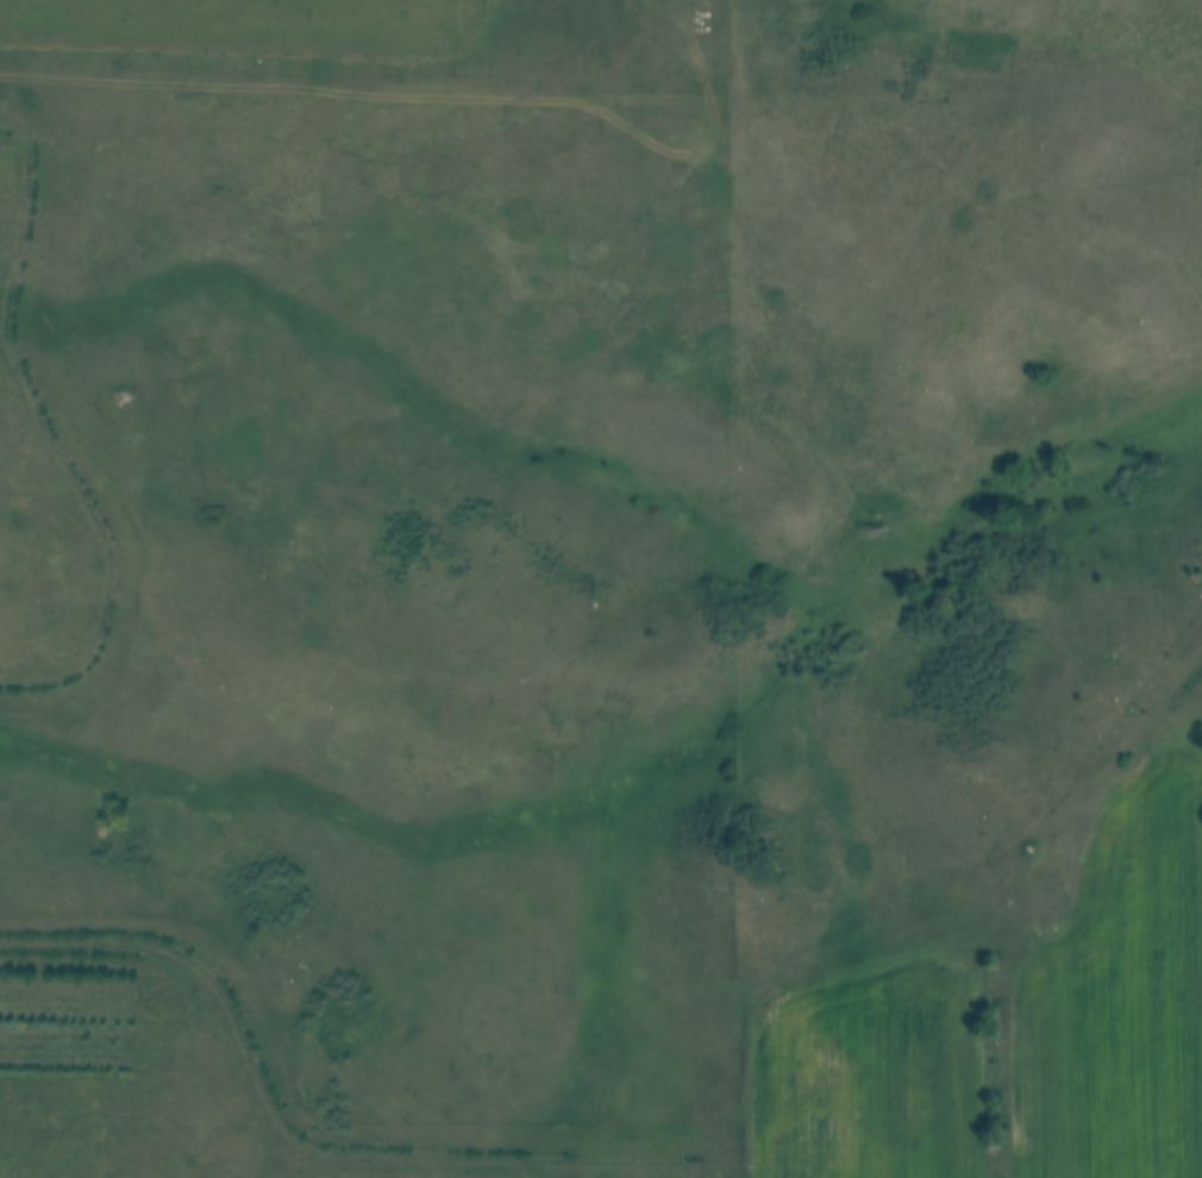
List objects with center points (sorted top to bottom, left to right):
road: (38, 84)

